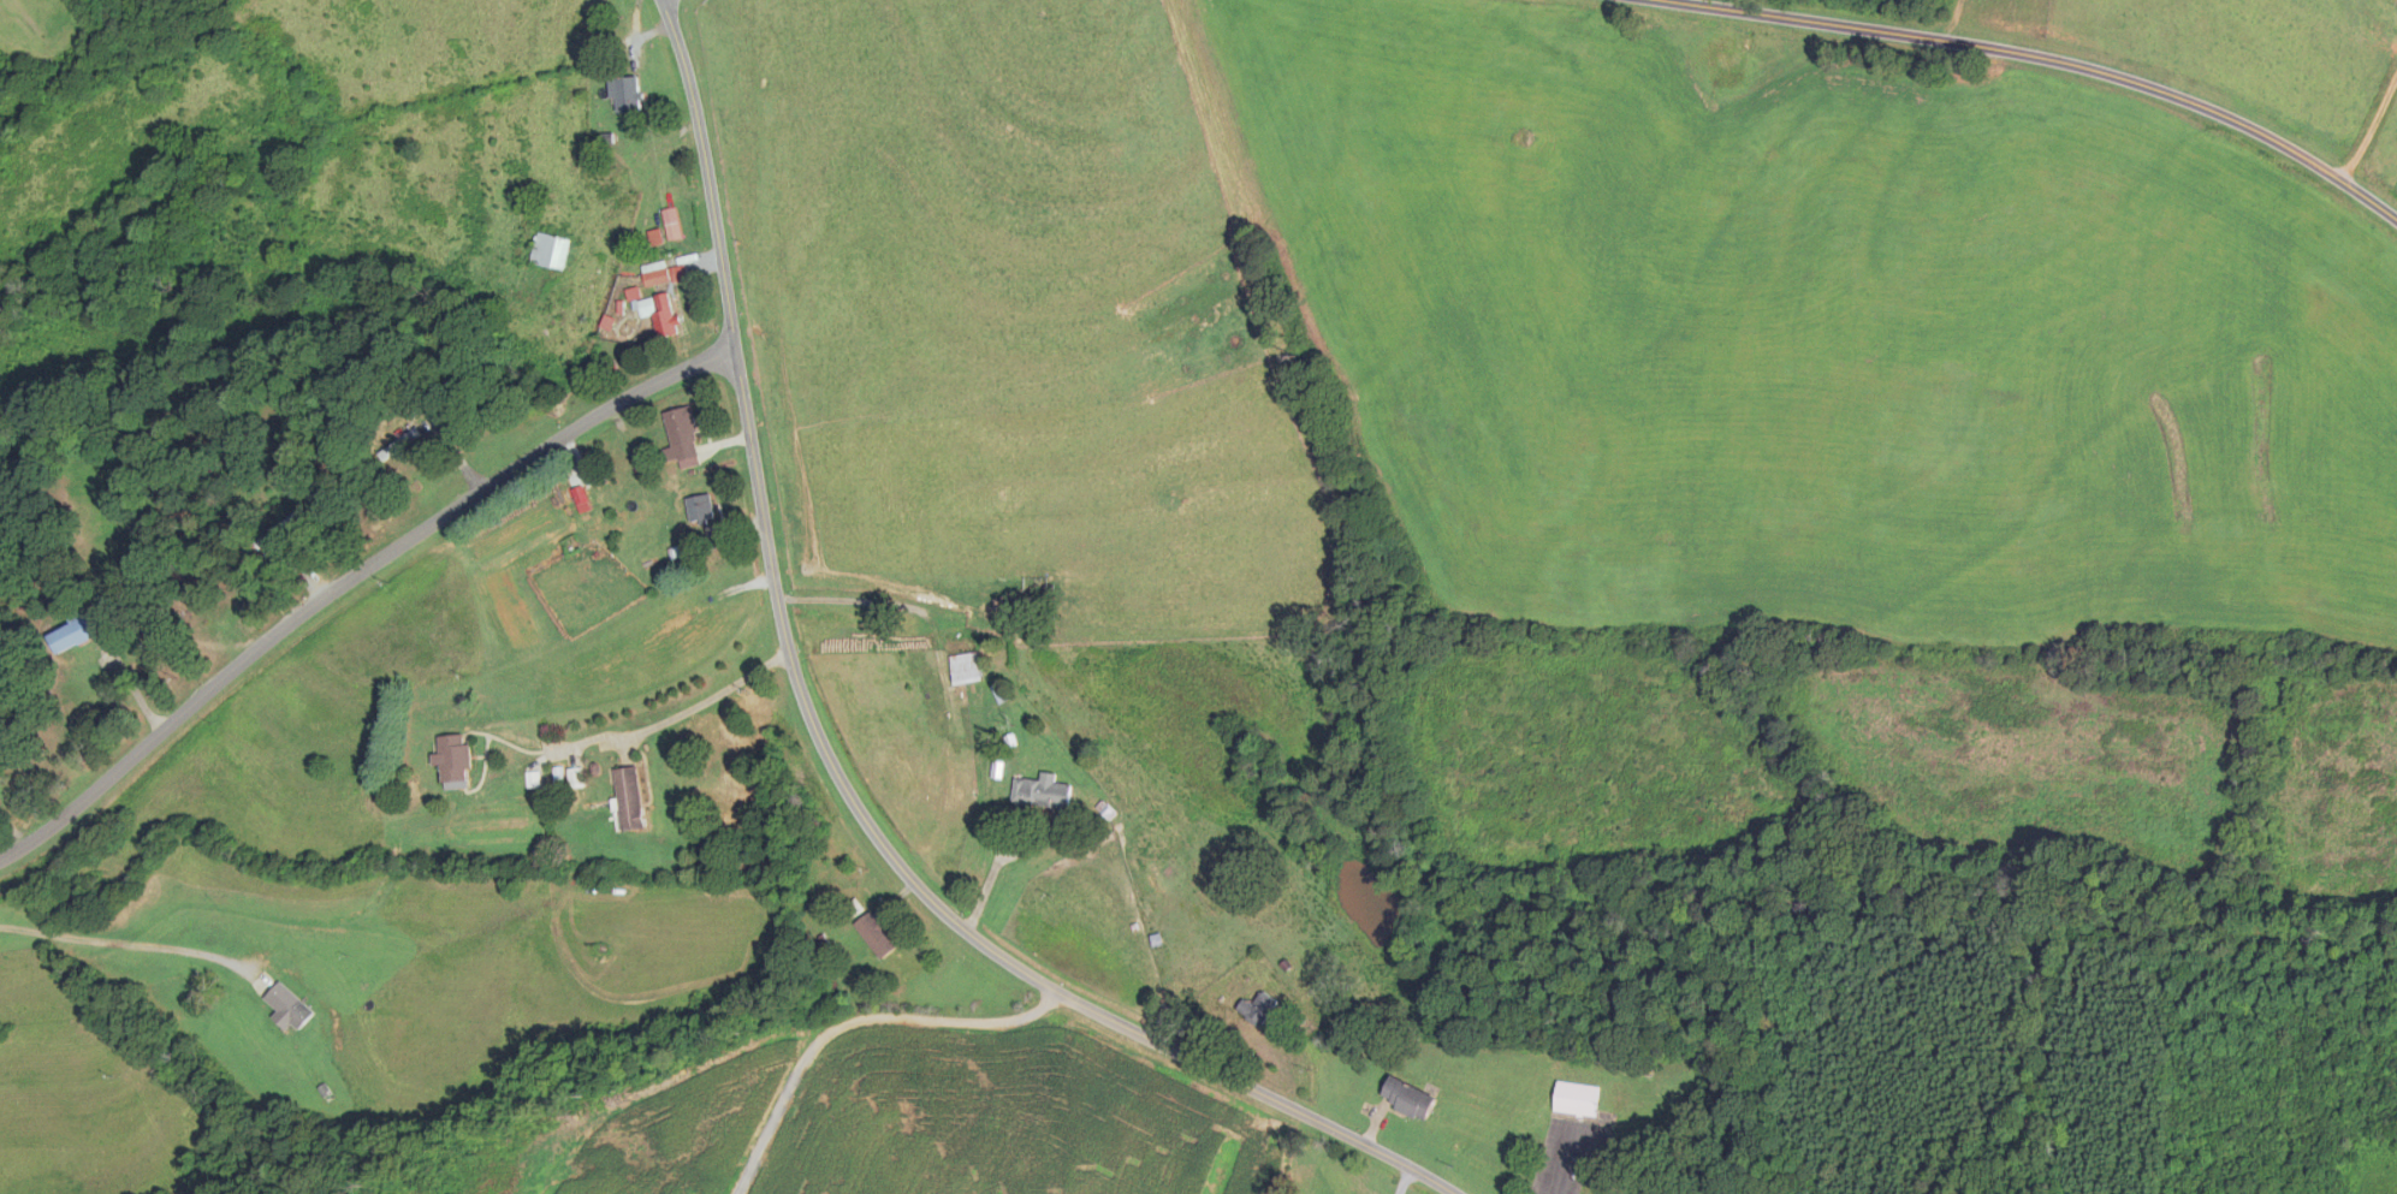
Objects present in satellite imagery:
road: (2053, 58)
building: (625, 95)
building: (671, 224)
building: (550, 251)
building: (664, 274)
building: (660, 315)
building: (682, 435)
building: (399, 444)
building: (701, 511)
road: (352, 586)
building: (78, 632)
building: (967, 667)
road: (675, 715)
road: (829, 758)
building: (455, 761)
building: (1043, 794)
building: (630, 797)
building: (1139, 814)
building: (1163, 874)
building: (854, 908)
building: (877, 934)
road: (130, 949)
building: (289, 1006)
building: (1258, 1008)
road: (841, 1018)
building: (1410, 1098)
building: (1577, 1099)
park: (1714, 1174)
road: (1404, 1180)

